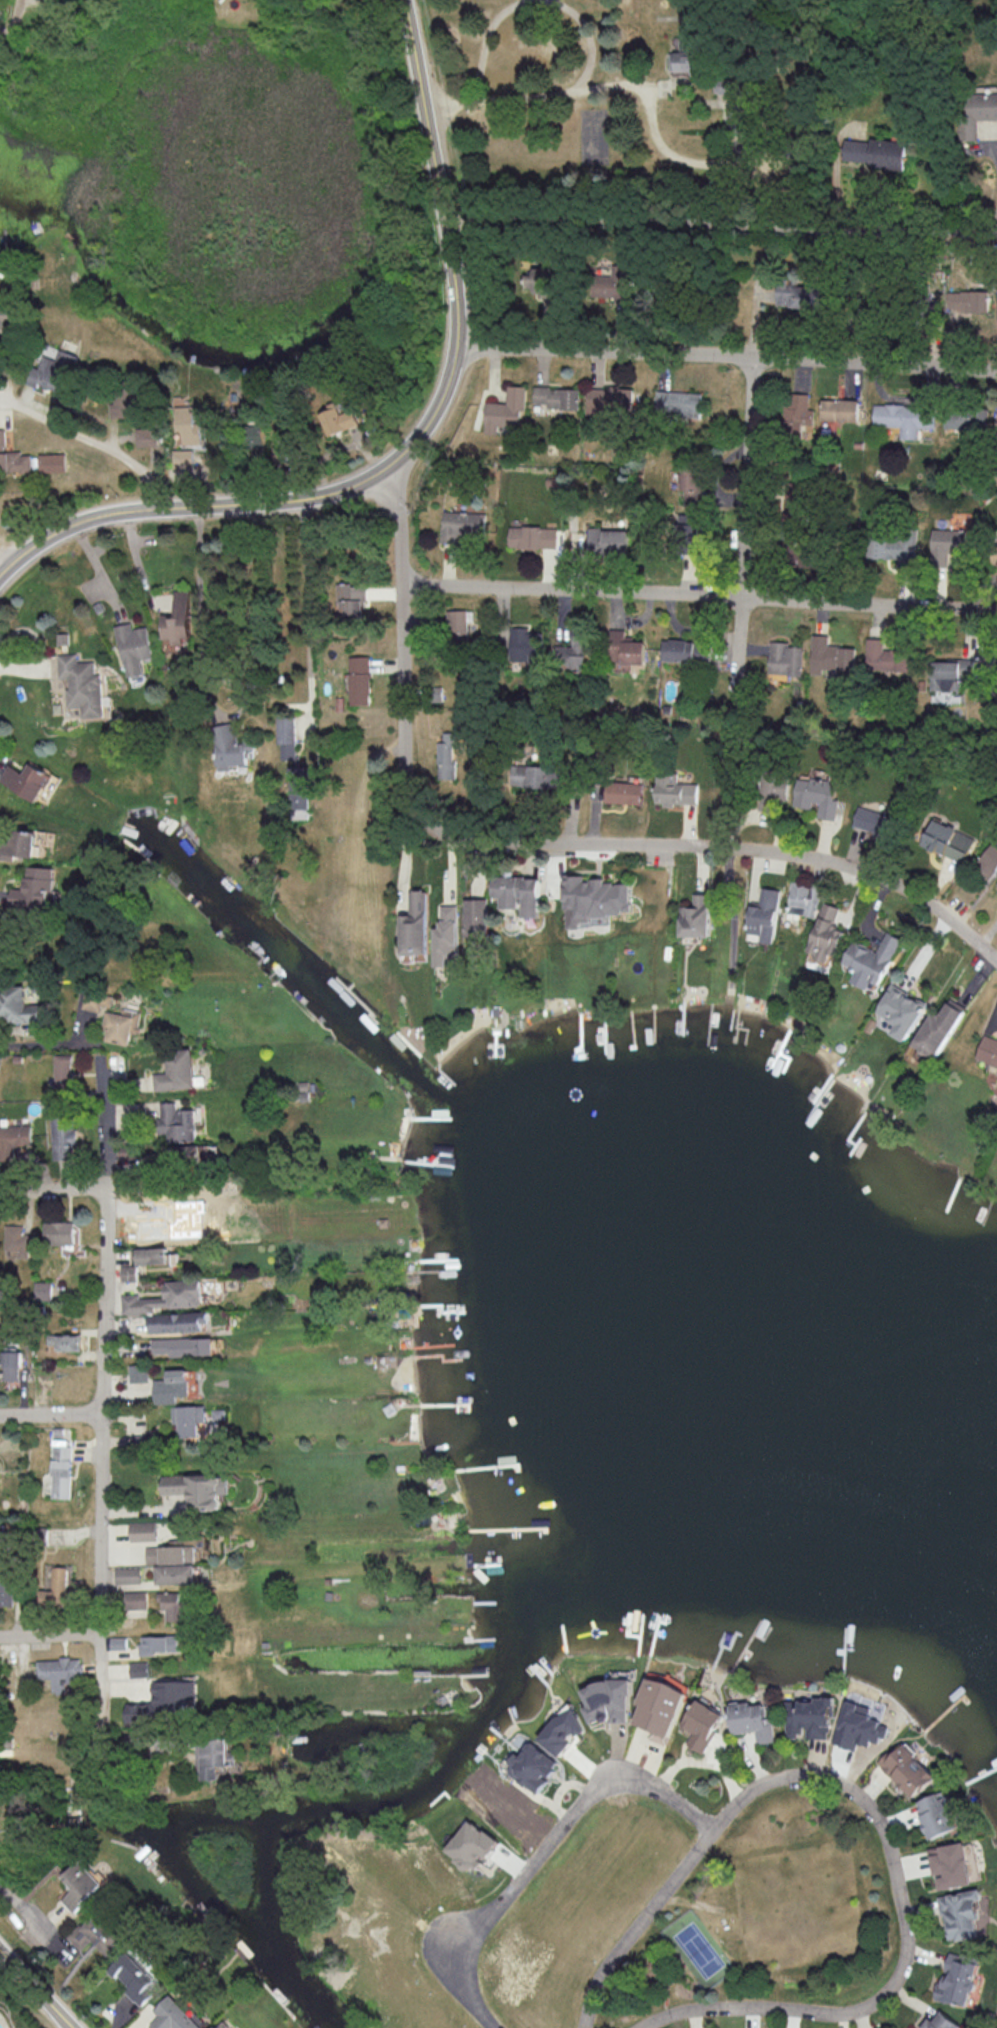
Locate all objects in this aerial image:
building: (50, 5)
road: (14, 17)
road: (589, 40)
road: (486, 41)
building: (685, 54)
road: (614, 83)
building: (737, 105)
building: (979, 112)
building: (874, 152)
road: (721, 224)
building: (612, 284)
building: (795, 296)
building: (967, 300)
road: (727, 356)
building: (54, 370)
building: (556, 396)
building: (609, 401)
building: (678, 403)
building: (506, 409)
building: (840, 409)
building: (797, 412)
building: (904, 418)
building: (966, 418)
building: (338, 420)
building: (188, 424)
building: (147, 436)
road: (415, 438)
building: (255, 440)
road: (91, 442)
building: (12, 458)
building: (52, 462)
road: (748, 477)
building: (693, 484)
road: (398, 524)
building: (462, 524)
building: (532, 536)
building: (607, 540)
building: (948, 542)
building: (894, 548)
building: (993, 556)
road: (6, 562)
road: (699, 595)
building: (351, 599)
road: (199, 614)
road: (308, 614)
building: (177, 619)
building: (457, 622)
building: (526, 645)
building: (133, 647)
building: (624, 650)
building: (830, 656)
building: (886, 656)
building: (570, 657)
building: (785, 658)
building: (948, 673)
building: (359, 680)
building: (81, 684)
building: (286, 738)
building: (229, 749)
building: (445, 756)
building: (530, 774)
building: (26, 780)
building: (299, 787)
building: (774, 788)
building: (675, 791)
building: (624, 792)
building: (817, 793)
building: (873, 821)
building: (948, 840)
building: (18, 844)
road: (602, 846)
building: (988, 862)
road: (702, 870)
building: (35, 888)
building: (519, 893)
road: (694, 894)
building: (594, 899)
building: (803, 899)
building: (765, 914)
road: (732, 916)
building: (700, 918)
building: (477, 921)
building: (417, 924)
building: (826, 932)
building: (448, 941)
building: (871, 960)
road: (685, 962)
building: (96, 1000)
building: (19, 1008)
building: (902, 1010)
pier: (684, 1021)
pier: (719, 1022)
building: (120, 1025)
pier: (736, 1025)
building: (939, 1029)
pier: (740, 1039)
road: (43, 1046)
building: (988, 1050)
building: (62, 1070)
building: (177, 1071)
building: (177, 1122)
road: (105, 1127)
building: (63, 1138)
building: (13, 1139)
building: (193, 1151)
road: (49, 1189)
building: (59, 1232)
building: (17, 1240)
building: (152, 1255)
building: (128, 1272)
building: (42, 1290)
building: (165, 1297)
building: (176, 1321)
building: (68, 1341)
building: (183, 1346)
building: (11, 1365)
building: (138, 1372)
building: (171, 1386)
road: (50, 1414)
building: (192, 1423)
road: (100, 1430)
building: (61, 1471)
building: (197, 1488)
building: (143, 1531)
building: (170, 1554)
building: (175, 1573)
building: (127, 1575)
building: (58, 1588)
building: (8, 1589)
building: (135, 1599)
building: (174, 1604)
road: (49, 1635)
building: (158, 1643)
building: (139, 1669)
building: (60, 1672)
building: (166, 1700)
building: (610, 1700)
building: (661, 1706)
building: (811, 1717)
building: (753, 1720)
building: (704, 1724)
building: (862, 1724)
building: (566, 1731)
building: (213, 1757)
building: (534, 1767)
building: (908, 1768)
building: (938, 1814)
road: (877, 1817)
building: (474, 1845)
road: (546, 1851)
building: (952, 1864)
building: (80, 1885)
building: (962, 1912)
road: (31, 1915)
building: (96, 1934)
building: (136, 1977)
building: (959, 1979)
road: (36, 1989)
building: (173, 2015)
building: (942, 2022)
building: (216, 2027)

